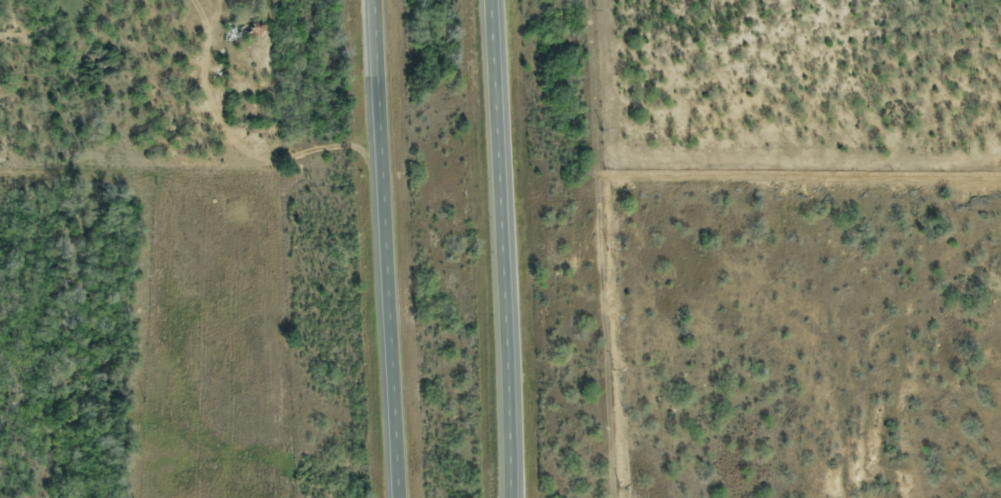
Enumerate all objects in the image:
road: (388, 249)
road: (502, 249)

